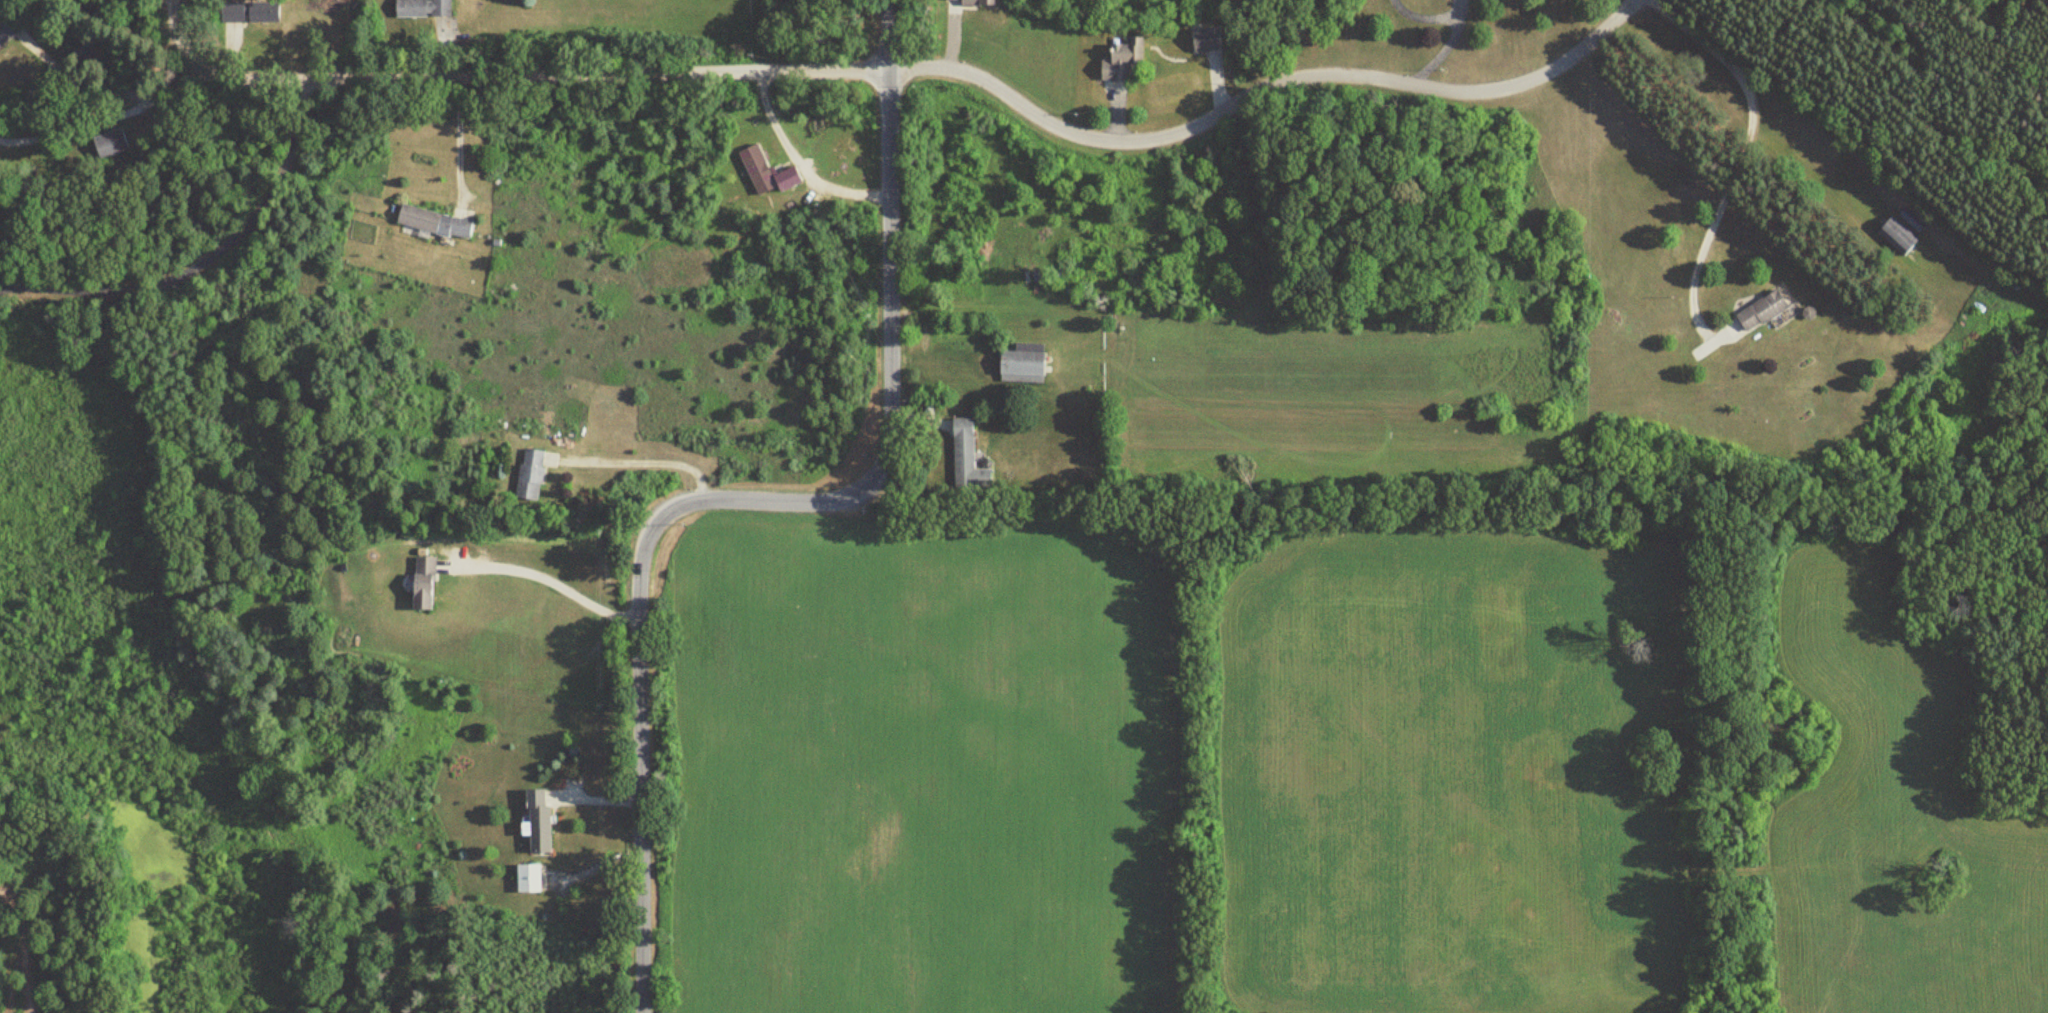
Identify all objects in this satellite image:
building: (969, 2)
building: (419, 8)
building: (261, 11)
building: (230, 12)
building: (9, 26)
building: (1203, 39)
road: (1439, 47)
building: (1119, 60)
road: (504, 76)
road: (92, 80)
road: (176, 84)
road: (1265, 93)
road: (79, 126)
road: (457, 134)
building: (105, 144)
road: (793, 163)
road: (1732, 165)
building: (754, 169)
building: (431, 222)
building: (1895, 235)
road: (208, 261)
building: (1759, 311)
building: (1018, 366)
building: (964, 456)
road: (642, 462)
building: (527, 474)
road: (760, 501)
road: (552, 580)
building: (419, 582)
building: (534, 822)
building: (525, 879)

